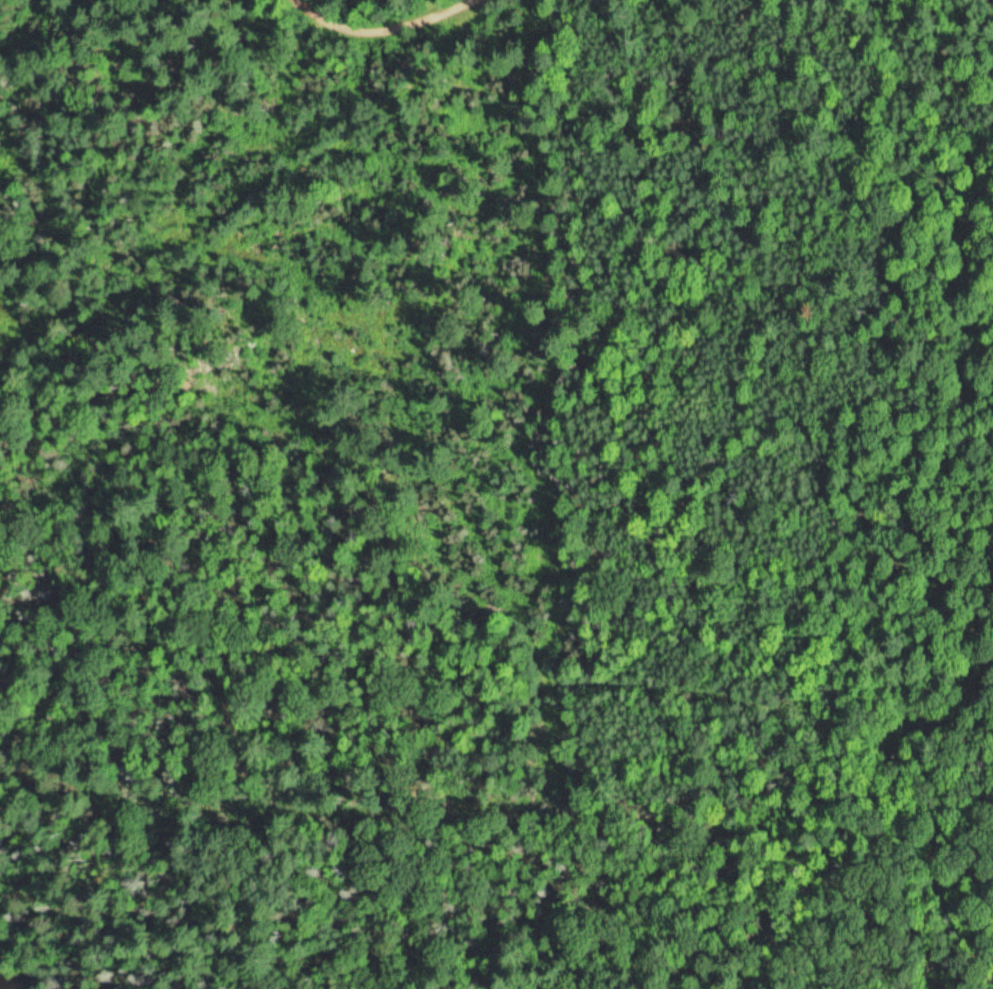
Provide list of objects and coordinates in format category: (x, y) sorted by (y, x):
road: (396, 28)

